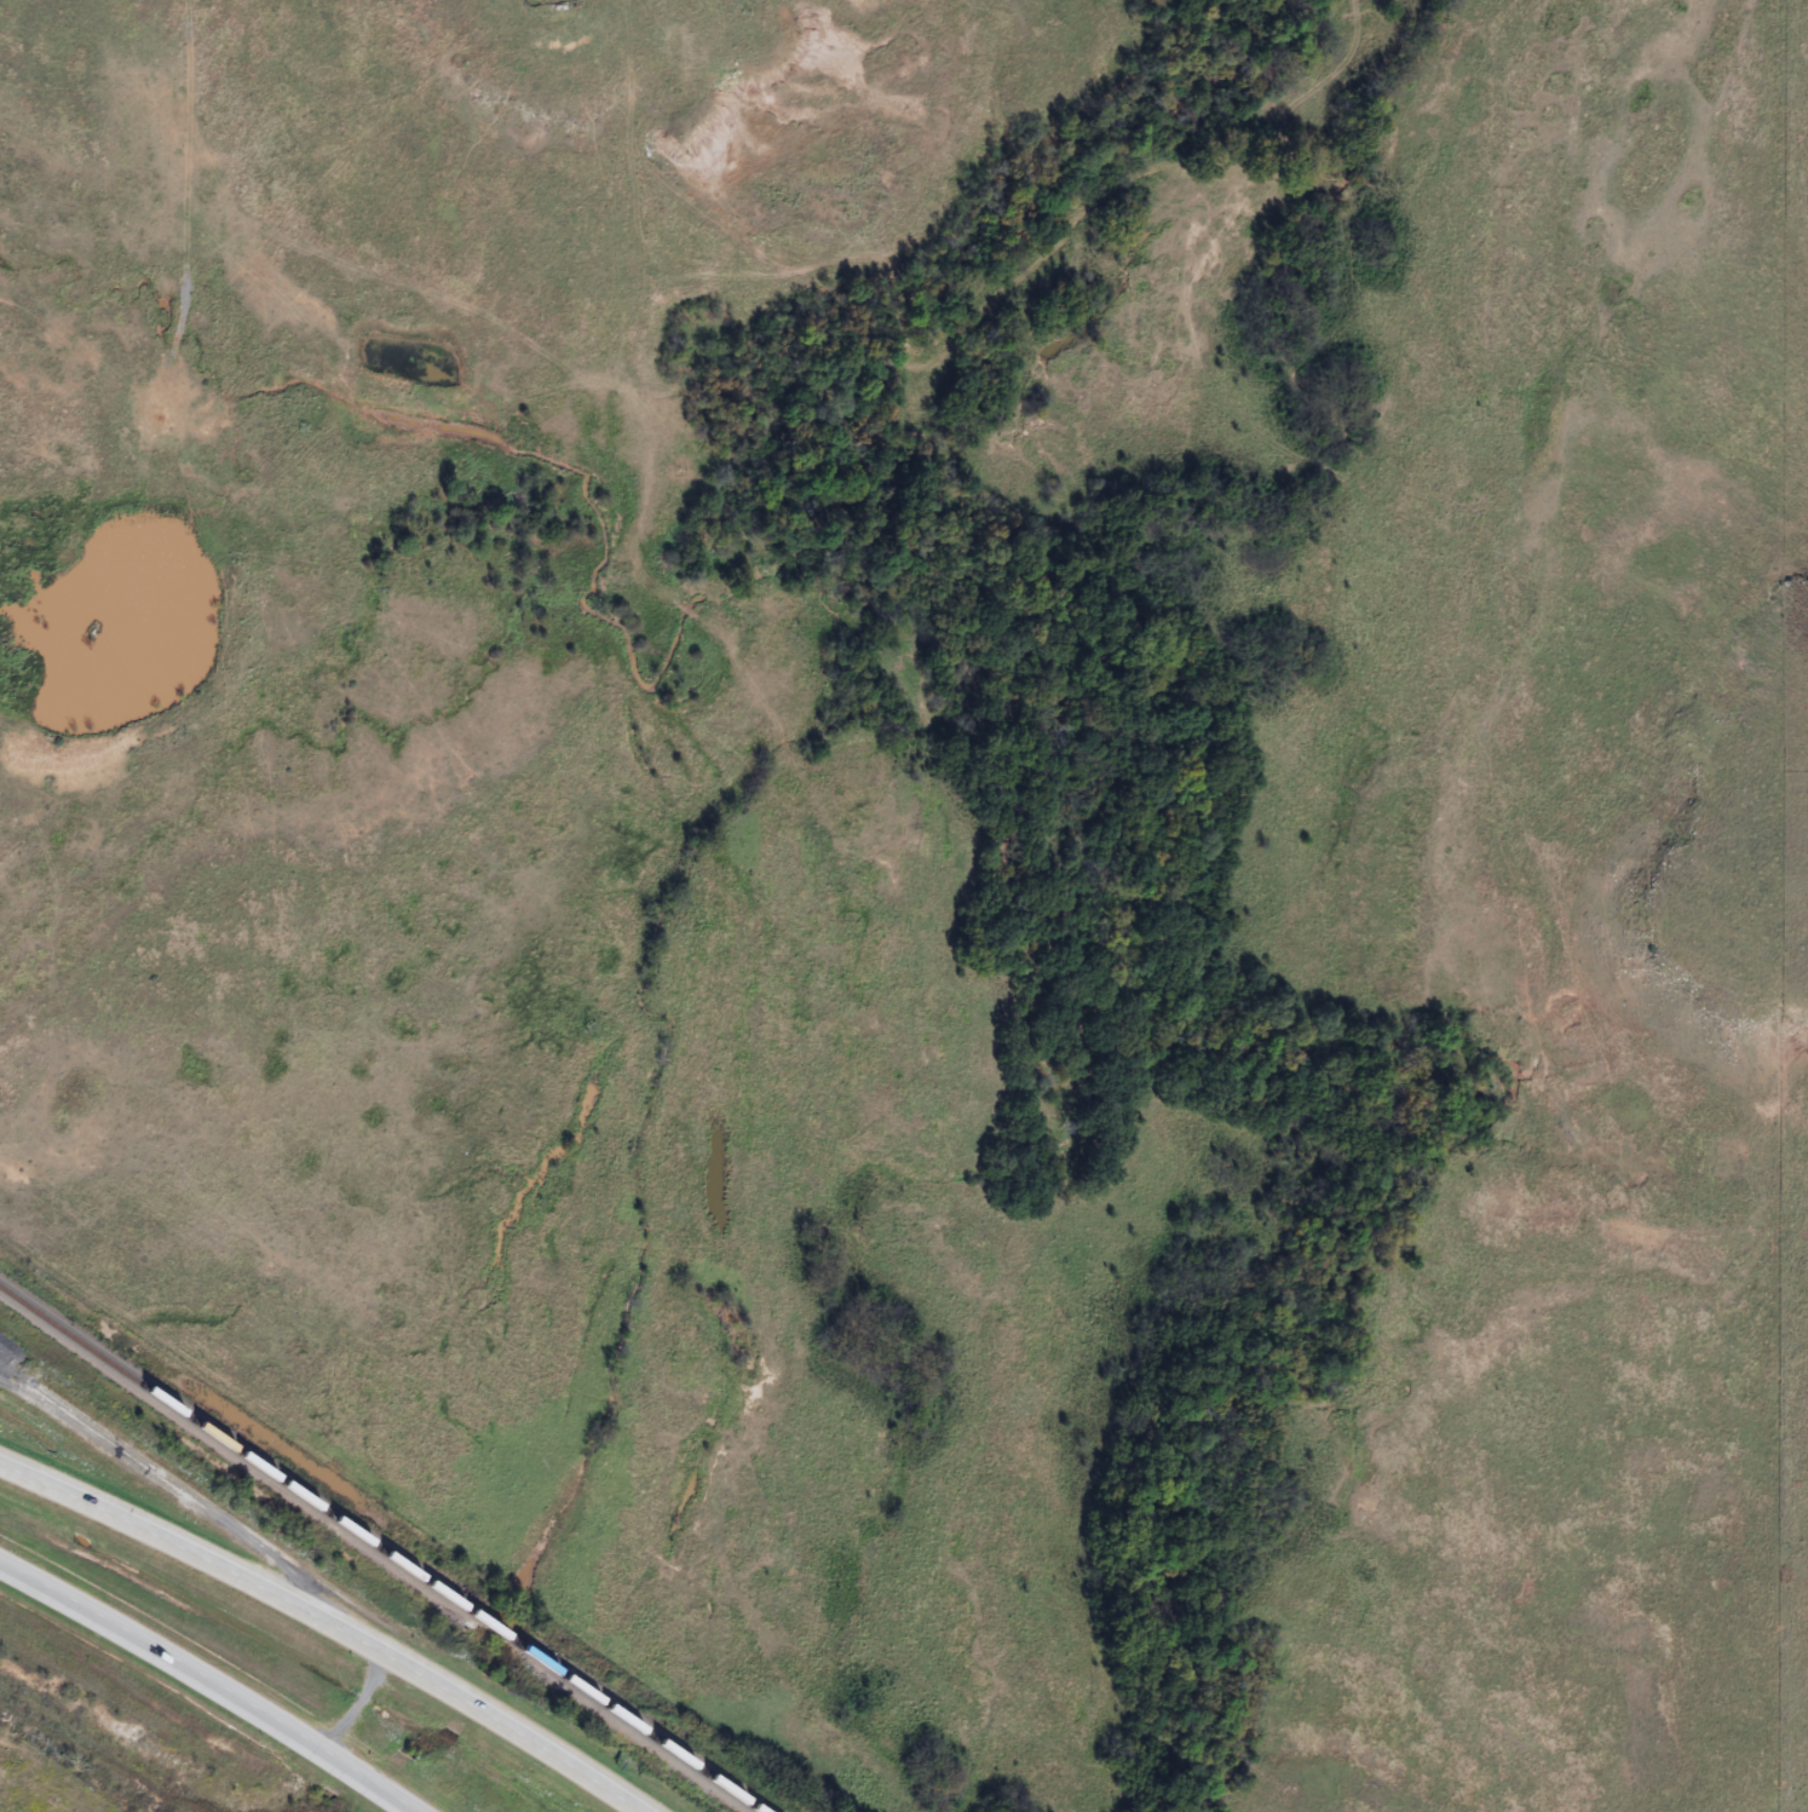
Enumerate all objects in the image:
road: (18, 1384)
railway: (236, 1454)
road: (338, 1620)
railway: (501, 1635)
road: (217, 1678)
railway: (641, 1732)

